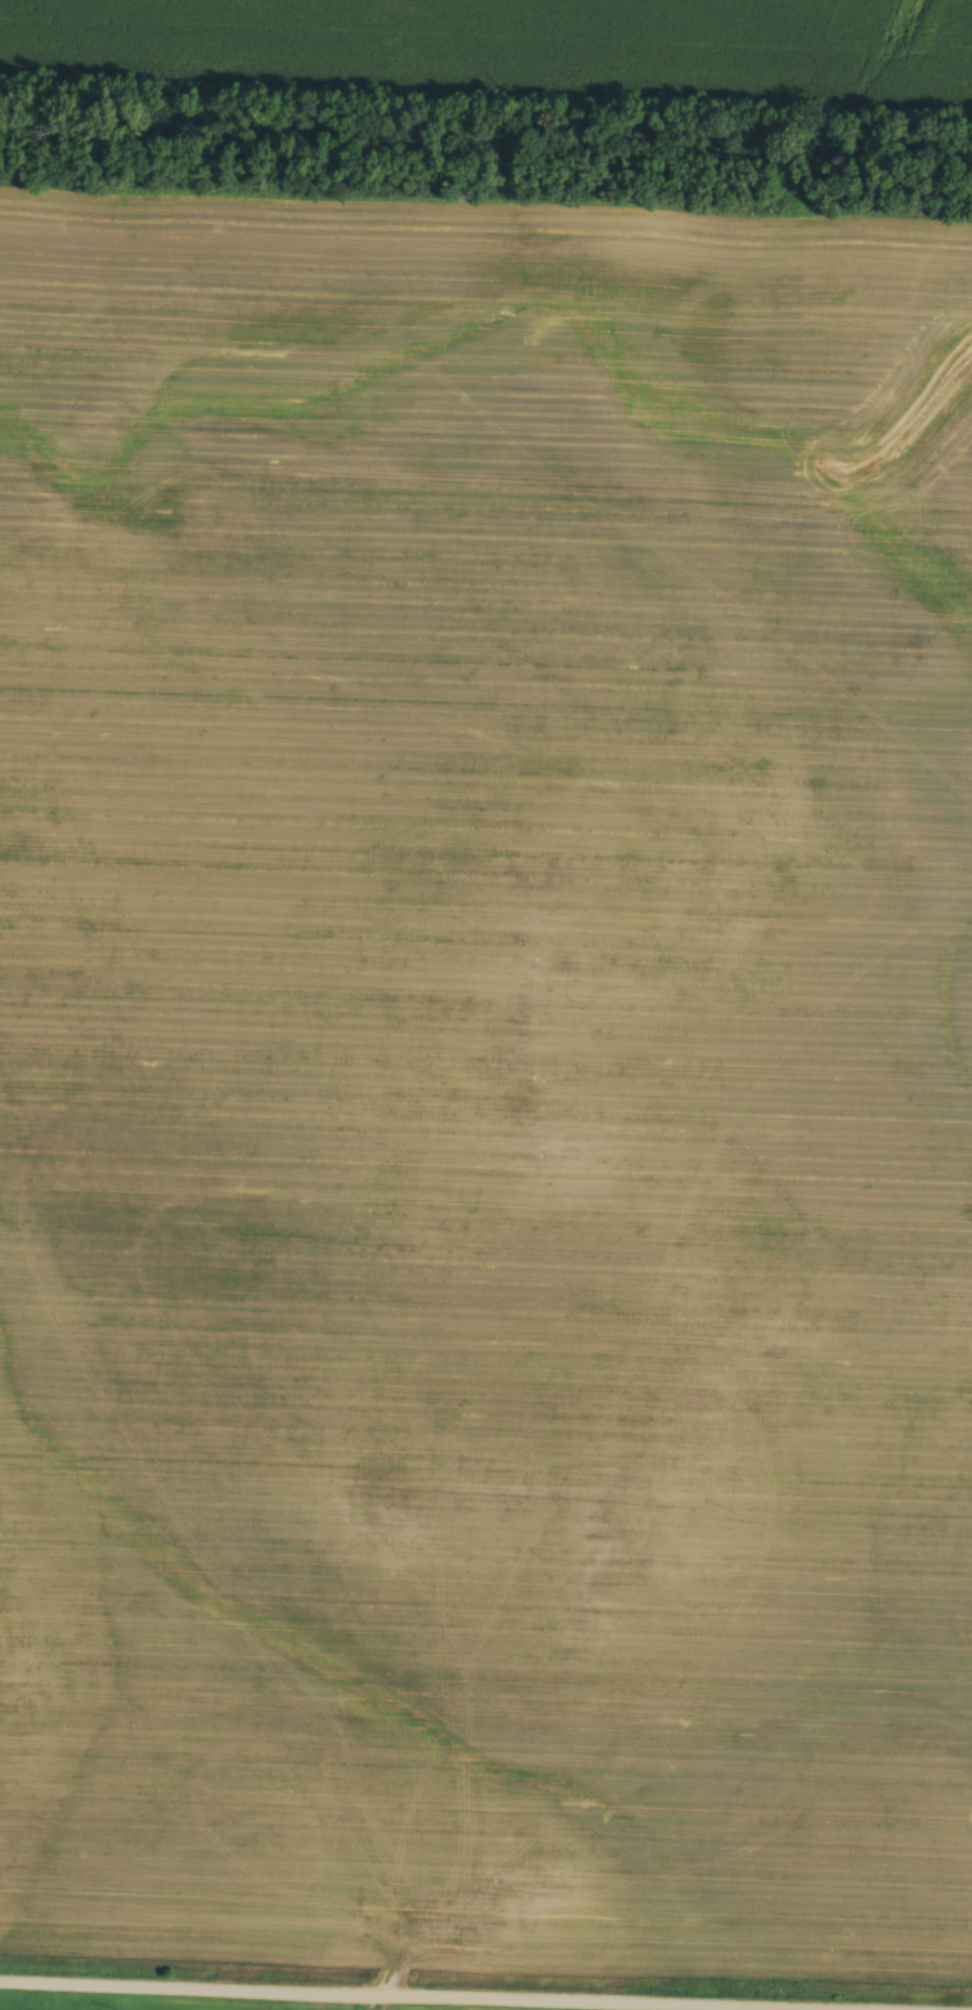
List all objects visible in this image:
road: (426, 1995)

